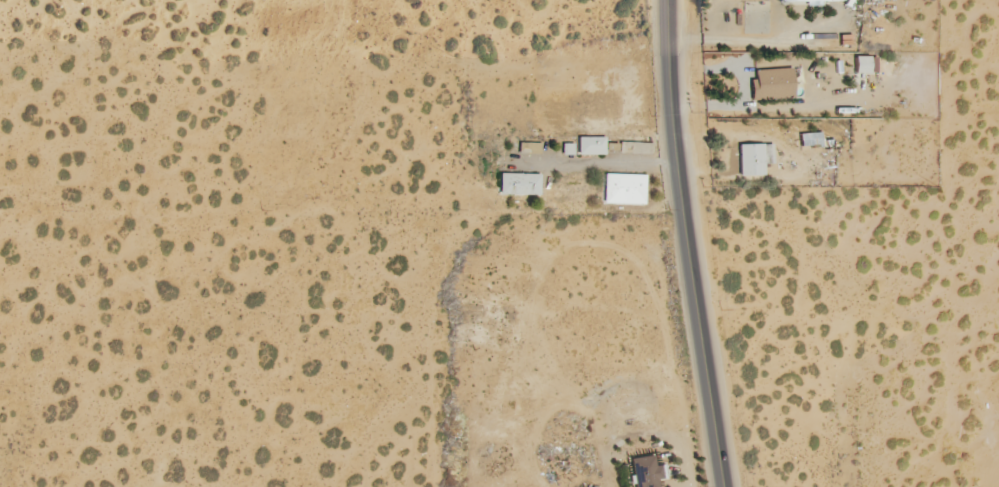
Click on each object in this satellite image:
building: (803, 2)
road: (756, 39)
building: (859, 65)
building: (770, 84)
building: (809, 140)
building: (589, 146)
building: (528, 148)
building: (634, 148)
building: (566, 149)
building: (753, 159)
road: (594, 162)
building: (518, 184)
building: (622, 189)
road: (687, 244)
building: (644, 472)

